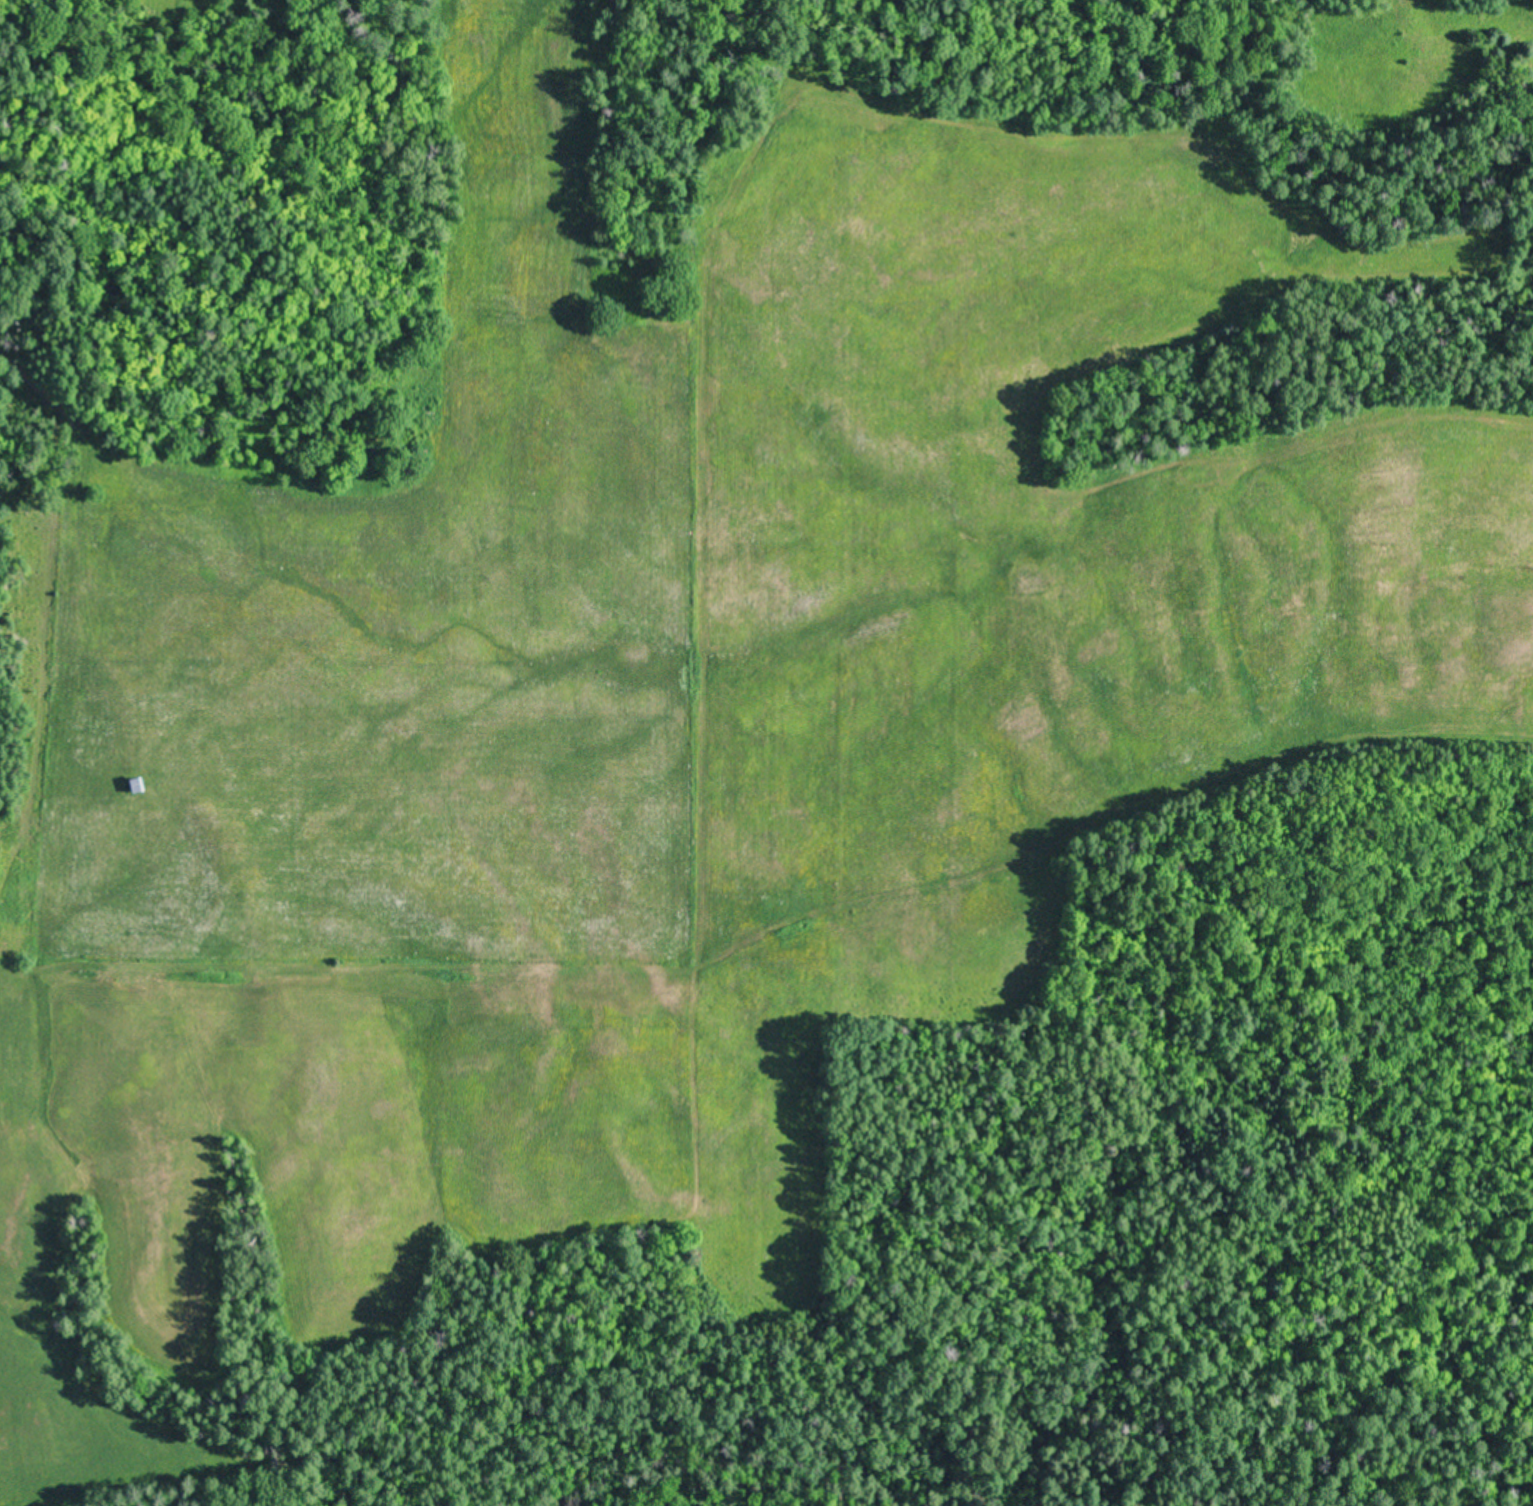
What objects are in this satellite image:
road: (646, 484)

